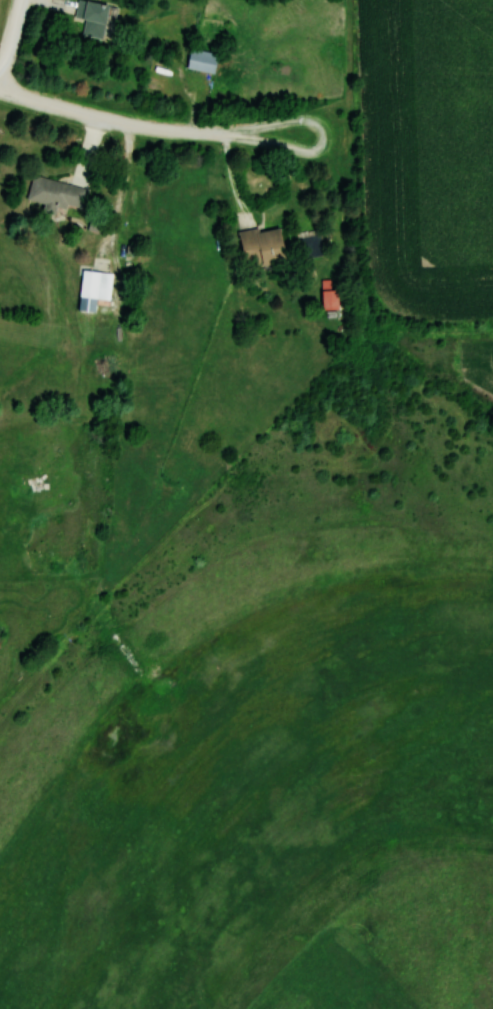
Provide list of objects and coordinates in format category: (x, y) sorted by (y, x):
building: (91, 17)
road: (10, 37)
building: (201, 60)
road: (149, 129)
road: (127, 180)
building: (55, 194)
building: (259, 246)
building: (310, 246)
building: (94, 285)
building: (327, 297)

